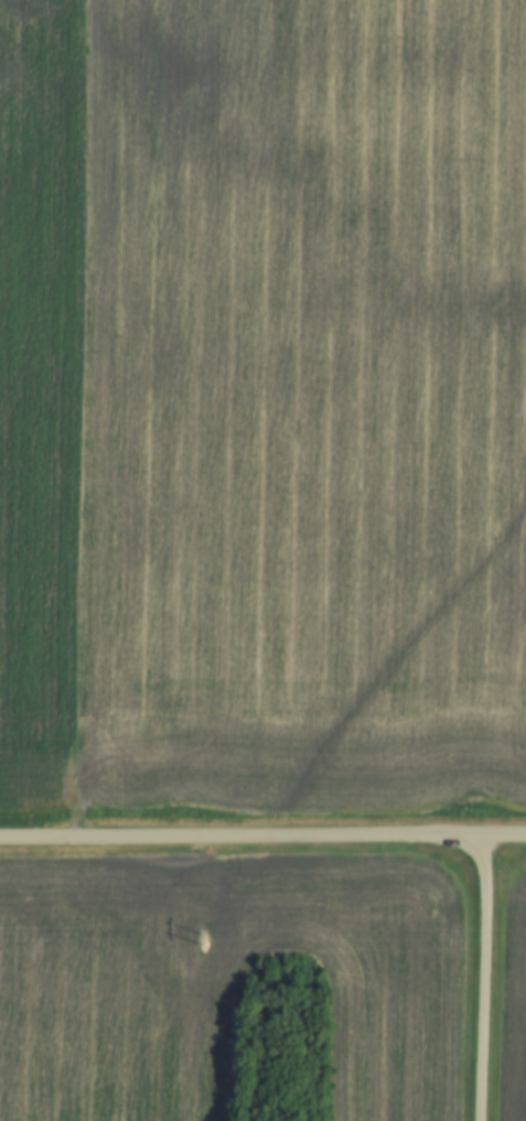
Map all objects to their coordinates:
road: (262, 840)
power tower: (203, 940)
road: (489, 980)

